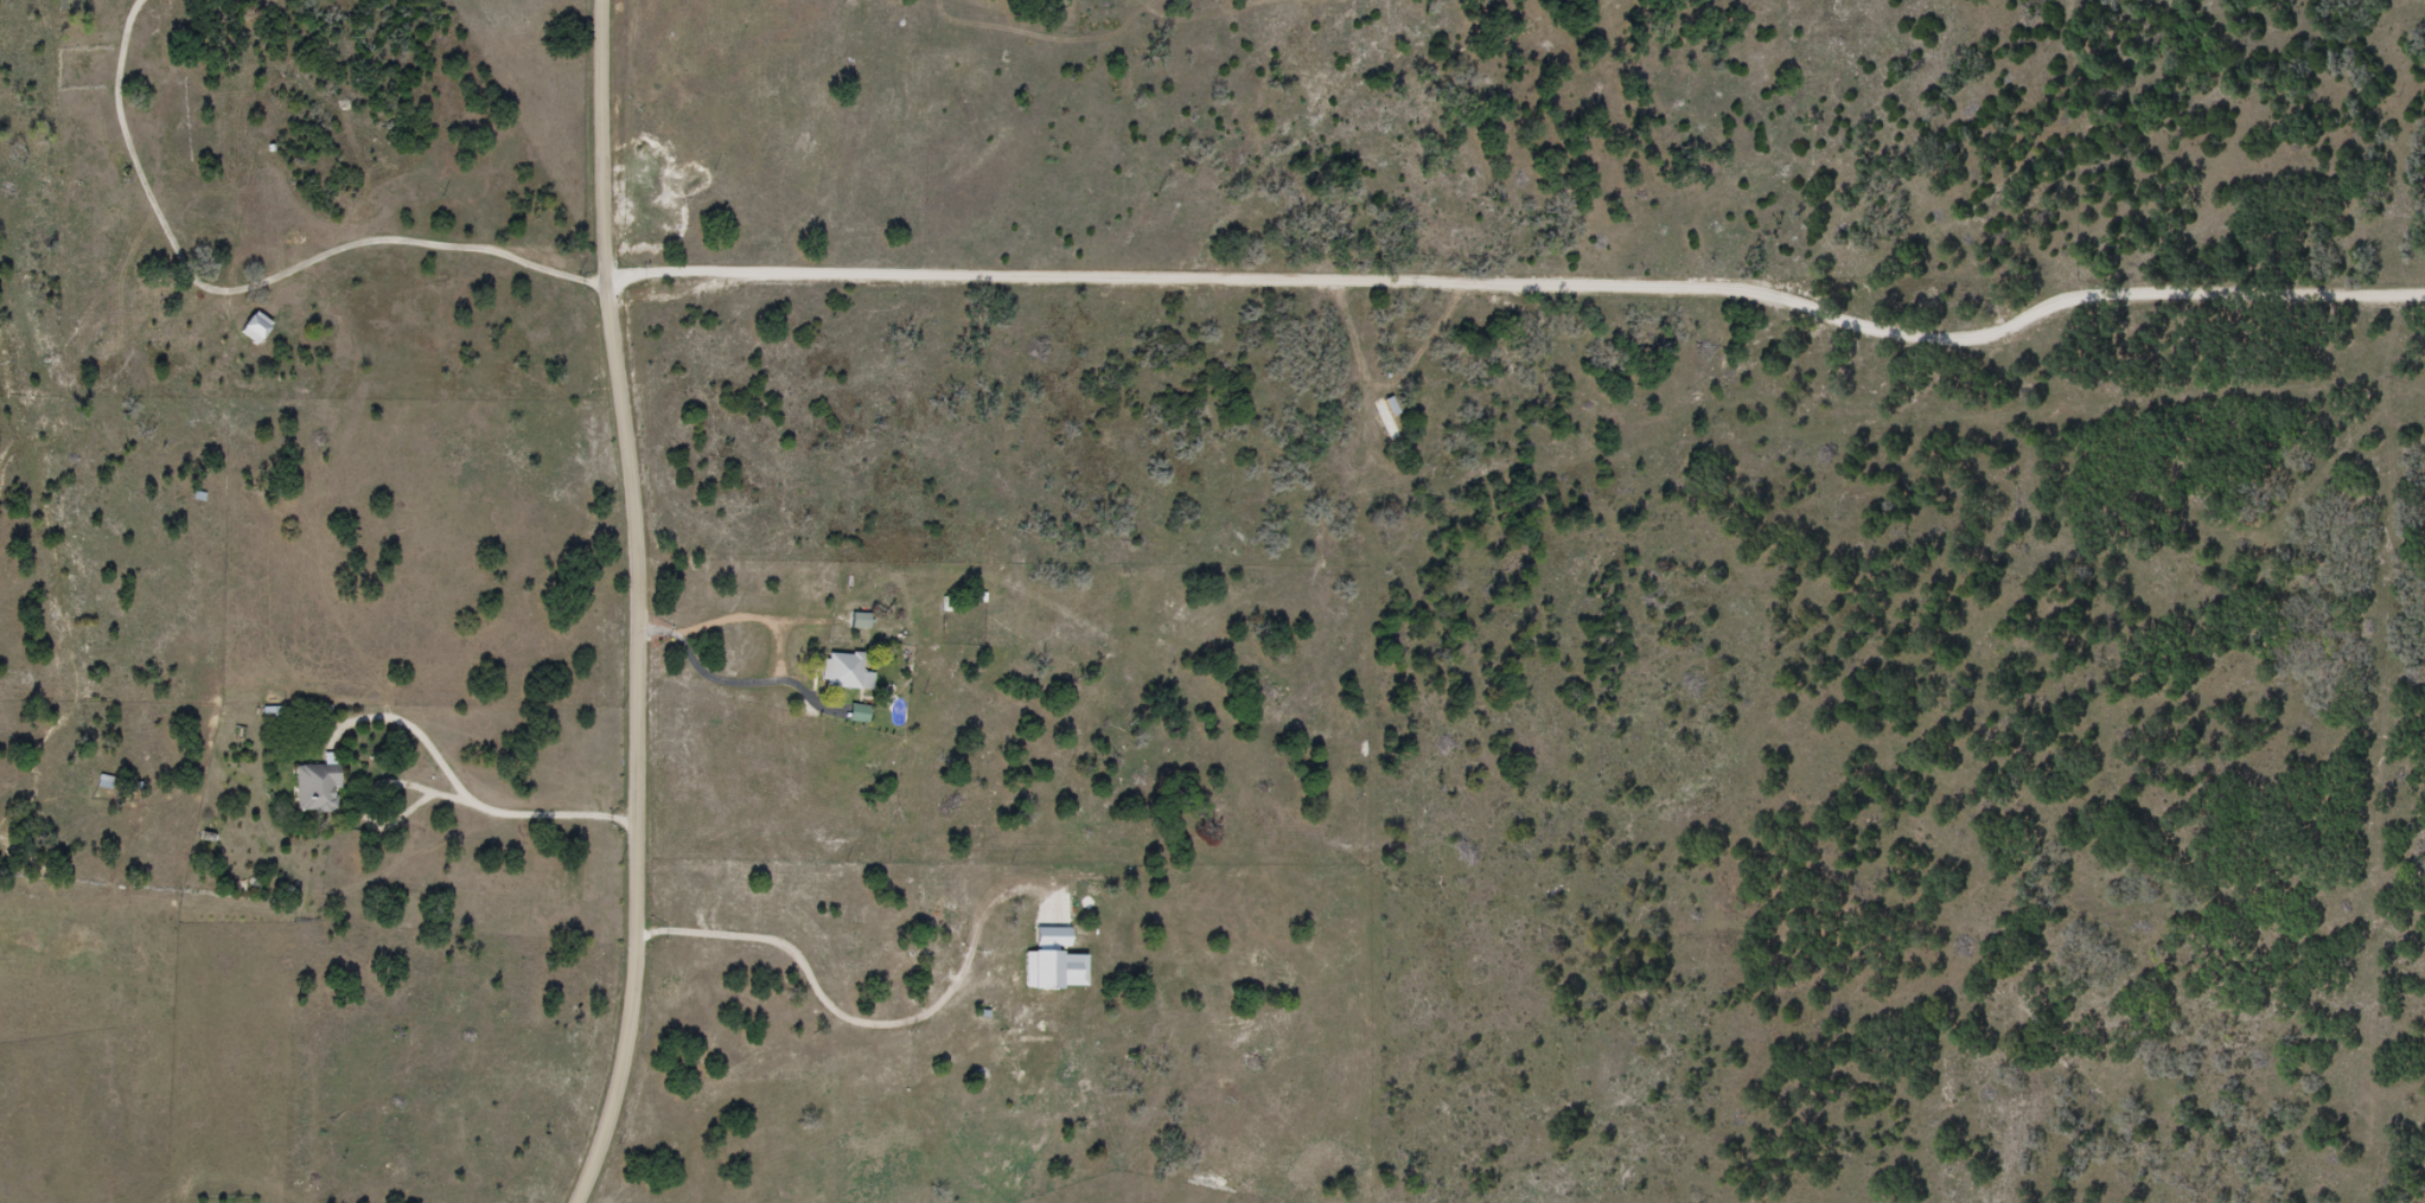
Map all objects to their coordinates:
road: (253, 286)
building: (255, 329)
road: (1525, 353)
building: (1387, 416)
road: (618, 603)
building: (853, 621)
building: (845, 672)
building: (857, 714)
building: (318, 789)

